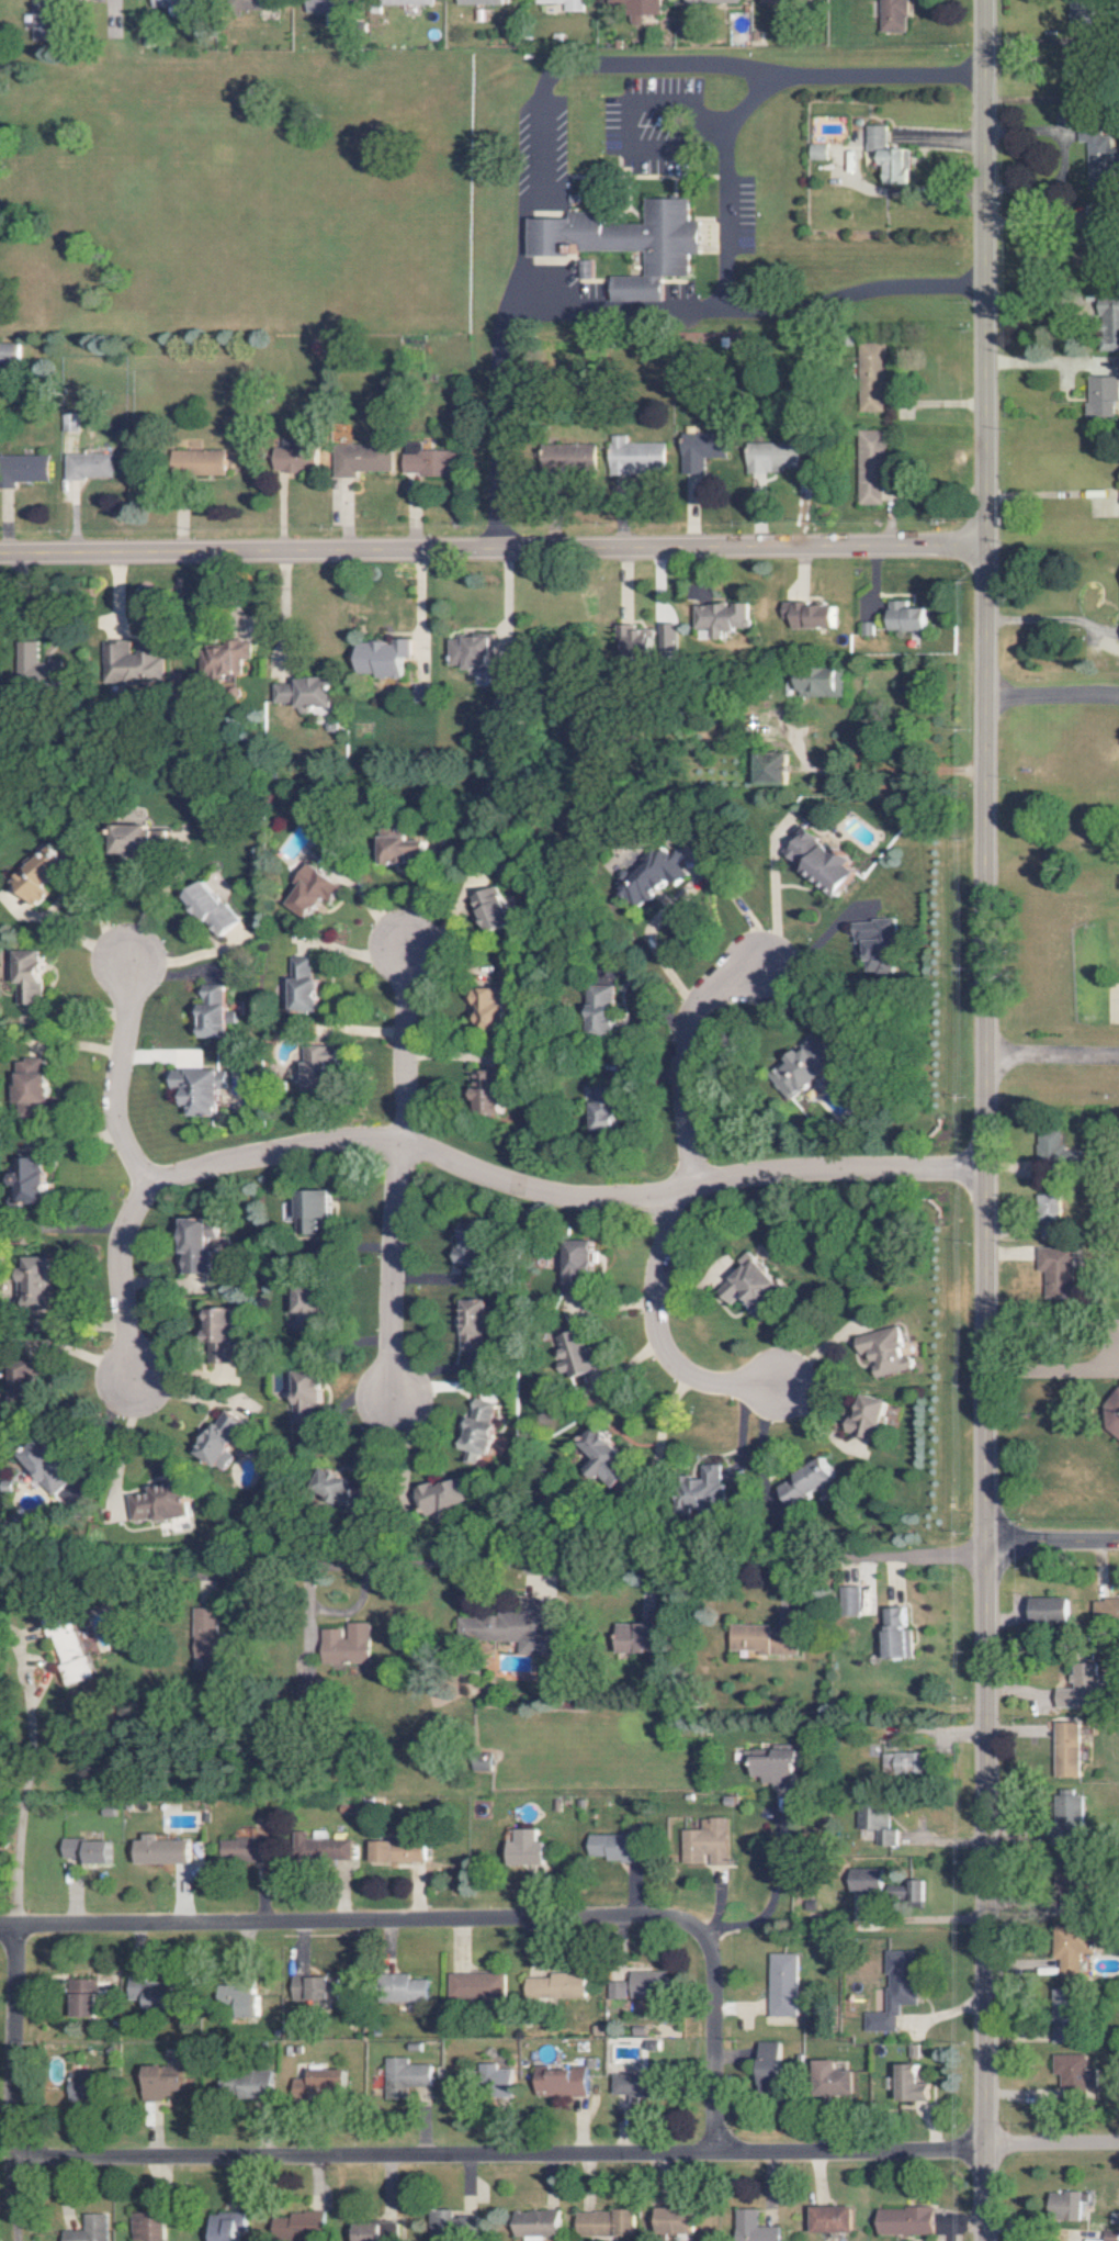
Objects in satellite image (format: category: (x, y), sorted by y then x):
building: (478, 1)
building: (709, 1)
building: (785, 1)
road: (125, 2)
building: (173, 2)
building: (410, 2)
building: (565, 4)
building: (638, 8)
building: (332, 11)
building: (1081, 11)
building: (892, 15)
building: (39, 19)
building: (1094, 145)
building: (816, 150)
building: (886, 155)
road: (536, 171)
road: (720, 212)
building: (626, 243)
building: (581, 269)
road: (1043, 301)
building: (5, 352)
building: (1101, 395)
road: (489, 418)
building: (698, 449)
building: (568, 453)
building: (632, 453)
building: (770, 456)
building: (296, 458)
building: (359, 459)
building: (196, 461)
building: (427, 461)
building: (87, 466)
building: (30, 467)
road: (1043, 492)
road: (491, 552)
road: (275, 614)
building: (809, 615)
road: (1041, 615)
road: (414, 616)
building: (720, 617)
building: (907, 617)
building: (651, 639)
building: (468, 651)
building: (221, 658)
building: (382, 658)
building: (131, 665)
building: (37, 670)
building: (304, 692)
road: (1051, 696)
road: (884, 766)
building: (771, 769)
building: (147, 838)
building: (404, 850)
building: (825, 862)
building: (46, 872)
building: (651, 874)
building: (316, 890)
road: (681, 892)
building: (213, 905)
building: (493, 909)
building: (877, 943)
building: (30, 976)
building: (304, 986)
building: (488, 1006)
building: (601, 1008)
building: (216, 1012)
road: (405, 1047)
road: (1052, 1057)
building: (318, 1068)
road: (681, 1068)
building: (802, 1068)
building: (29, 1080)
road: (120, 1080)
building: (196, 1090)
building: (488, 1091)
building: (604, 1110)
road: (985, 1120)
building: (1045, 1145)
building: (23, 1180)
road: (562, 1206)
building: (1047, 1206)
building: (308, 1209)
building: (470, 1245)
building: (195, 1250)
building: (575, 1266)
building: (1053, 1271)
road: (391, 1274)
building: (36, 1280)
road: (120, 1282)
building: (305, 1307)
building: (473, 1324)
building: (218, 1325)
road: (654, 1335)
road: (811, 1351)
building: (882, 1351)
building: (576, 1354)
road: (1053, 1367)
building: (305, 1397)
building: (868, 1418)
building: (474, 1426)
building: (221, 1439)
building: (600, 1458)
building: (43, 1466)
building: (806, 1482)
building: (703, 1486)
building: (340, 1488)
building: (440, 1495)
building: (159, 1503)
road: (1051, 1545)
road: (601, 1549)
building: (847, 1600)
building: (1104, 1611)
building: (894, 1634)
building: (633, 1638)
building: (760, 1639)
building: (206, 1644)
building: (343, 1644)
building: (67, 1651)
building: (1073, 1687)
building: (1062, 1749)
road: (24, 1752)
building: (897, 1762)
building: (771, 1763)
building: (870, 1822)
building: (253, 1827)
building: (702, 1841)
building: (524, 1847)
building: (610, 1847)
building: (240, 1848)
building: (317, 1848)
building: (86, 1850)
building: (159, 1851)
building: (394, 1851)
road: (766, 1896)
road: (924, 1916)
road: (347, 1926)
building: (1065, 1953)
building: (644, 1983)
building: (780, 1983)
building: (472, 1984)
building: (551, 1985)
building: (310, 1987)
building: (402, 1987)
building: (612, 1990)
building: (891, 1990)
building: (155, 1992)
building: (82, 1997)
road: (12, 2042)
road: (711, 2042)
building: (768, 2062)
building: (403, 2072)
building: (832, 2077)
building: (489, 2078)
building: (558, 2081)
building: (162, 2082)
building: (318, 2083)
building: (912, 2083)
building: (248, 2084)
building: (631, 2085)
building: (74, 2088)
road: (566, 2158)
road: (8, 2196)
building: (1063, 2204)
building: (829, 2219)
building: (438, 2220)
building: (672, 2220)
building: (903, 2220)
building: (602, 2222)
building: (146, 2223)
building: (225, 2226)
building: (296, 2226)
building: (750, 2227)
building: (86, 2229)
building: (372, 2231)

